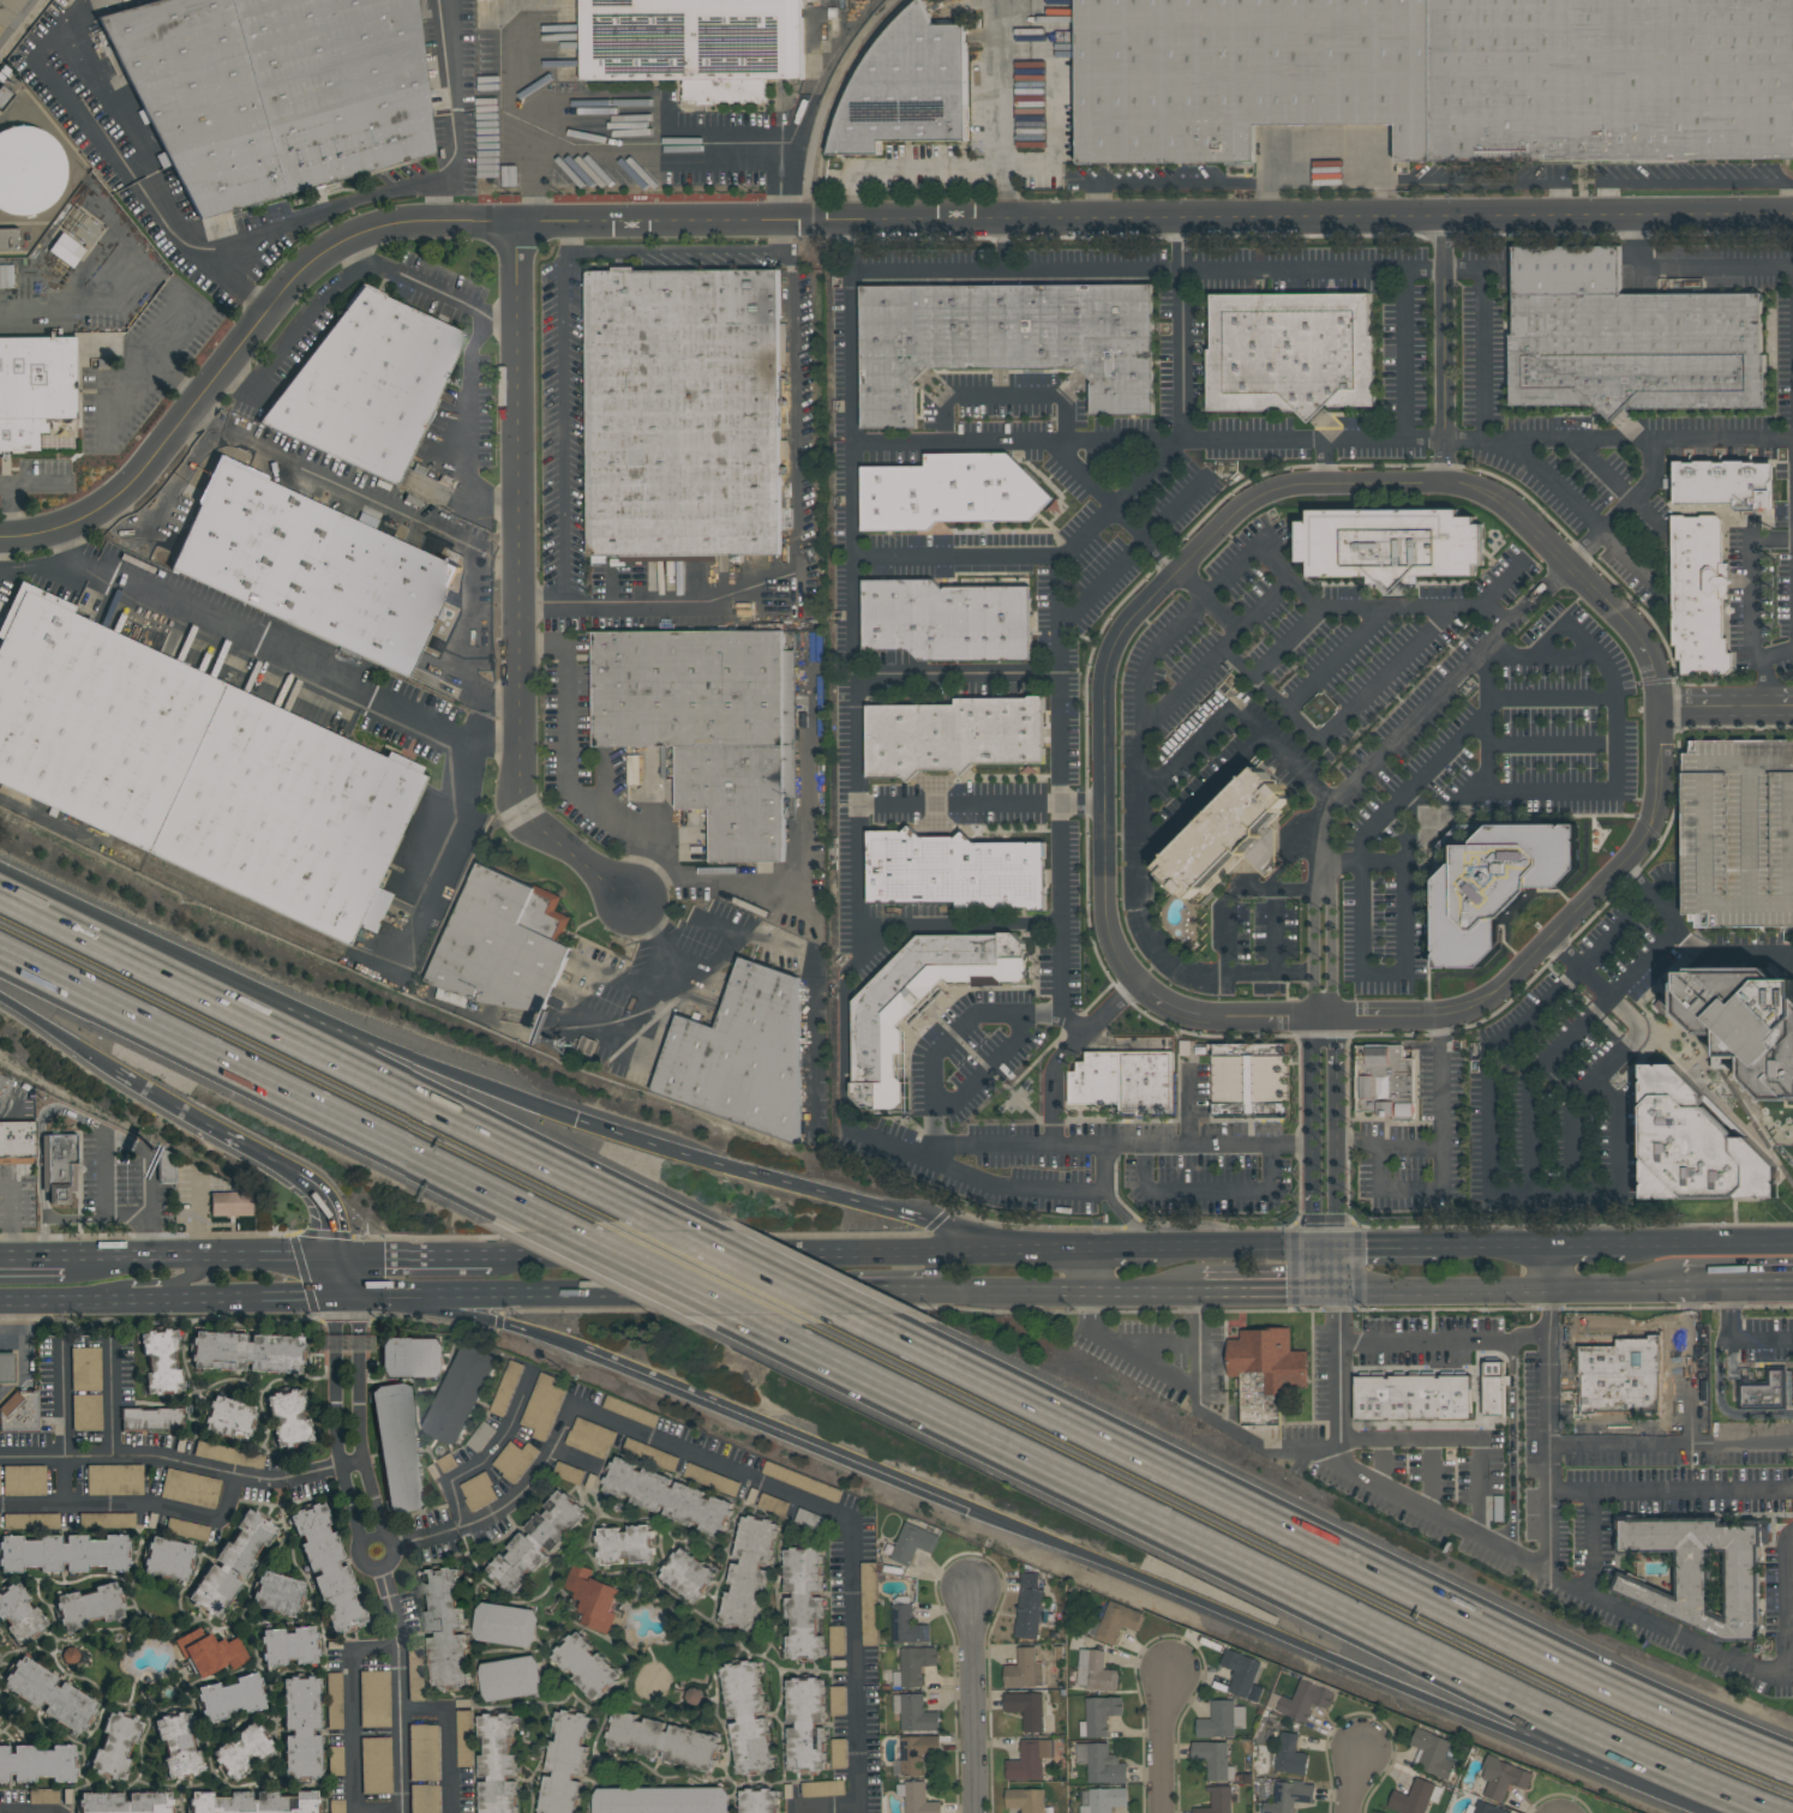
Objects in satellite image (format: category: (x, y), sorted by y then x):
road: (1055, 14)
road: (74, 16)
road: (25, 29)
building: (694, 44)
road: (83, 66)
road: (536, 71)
road: (822, 76)
building: (1437, 78)
building: (909, 88)
railway: (840, 91)
building: (275, 92)
road: (457, 98)
road: (653, 143)
road: (930, 169)
building: (29, 170)
road: (1467, 181)
road: (1179, 184)
road: (1552, 196)
road: (1265, 198)
road: (1385, 198)
road: (1093, 202)
road: (311, 216)
road: (829, 220)
road: (785, 234)
road: (563, 238)
building: (10, 239)
building: (66, 251)
road: (673, 251)
road: (1691, 268)
building: (6, 275)
road: (413, 282)
road: (1179, 326)
road: (295, 330)
road: (1481, 337)
building: (1626, 338)
road: (166, 343)
building: (1003, 343)
road: (1446, 349)
building: (1290, 352)
road: (1401, 352)
road: (149, 367)
building: (368, 386)
building: (35, 388)
road: (1001, 394)
road: (793, 401)
building: (682, 412)
road: (466, 416)
road: (563, 427)
road: (1324, 439)
road: (1546, 479)
road: (1403, 484)
building: (1723, 484)
road: (11, 485)
road: (5, 486)
road: (353, 491)
building: (949, 492)
road: (1119, 505)
road: (1627, 506)
road: (172, 508)
road: (854, 538)
building: (1390, 544)
road: (1132, 552)
road: (1041, 557)
building: (312, 568)
road: (56, 569)
road: (516, 590)
building: (1698, 594)
road: (661, 601)
road: (1751, 607)
road: (1379, 610)
road: (1221, 616)
building: (947, 619)
road: (470, 641)
road: (1213, 652)
road: (294, 655)
road: (1776, 655)
railway: (803, 672)
road: (957, 676)
road: (1547, 700)
road: (1726, 709)
road: (1414, 719)
road: (1483, 720)
building: (707, 724)
road: (1204, 731)
building: (953, 734)
road: (1259, 746)
road: (1547, 749)
building: (196, 769)
road: (566, 776)
road: (1410, 787)
road: (1589, 794)
road: (1062, 800)
road: (959, 806)
road: (442, 815)
road: (52, 820)
road: (1143, 827)
building: (1738, 833)
building: (1222, 834)
road: (1289, 859)
building: (954, 871)
road: (722, 878)
building: (1497, 884)
road: (1234, 892)
road: (960, 927)
road: (1321, 941)
building: (503, 942)
road: (1731, 953)
road: (724, 954)
road: (1642, 963)
road: (1384, 975)
road: (667, 996)
building: (919, 999)
road: (289, 1005)
building: (1745, 1020)
road: (58, 1032)
road: (951, 1037)
road: (1067, 1051)
building: (742, 1055)
road: (335, 1058)
road: (1312, 1077)
road: (1336, 1077)
building: (1248, 1079)
road: (1534, 1079)
building: (1125, 1080)
building: (1384, 1080)
road: (281, 1082)
building: (4, 1088)
road: (170, 1101)
road: (1188, 1106)
traffic signals: (580, 1119)
road: (121, 1140)
building: (17, 1142)
road: (1361, 1143)
road: (1123, 1145)
building: (1696, 1145)
road: (40, 1148)
road: (1440, 1149)
road: (1413, 1151)
road: (1621, 1151)
building: (59, 1166)
road: (305, 1175)
road: (758, 1175)
road: (1522, 1188)
road: (1210, 1190)
road: (1337, 1194)
road: (1314, 1195)
building: (230, 1203)
road: (1113, 1203)
road: (200, 1215)
road: (78, 1218)
road: (12, 1219)
road: (990, 1236)
road: (1709, 1243)
road: (1588, 1244)
road: (1493, 1245)
road: (1383, 1247)
road: (1242, 1248)
road: (1122, 1249)
road: (790, 1253)
road: (415, 1255)
road: (202, 1256)
traffic signals: (341, 1256)
road: (31, 1259)
road: (946, 1259)
road: (652, 1266)
road: (1335, 1268)
road: (763, 1269)
road: (185, 1277)
road: (337, 1277)
road: (349, 1277)
road: (1771, 1284)
road: (1716, 1285)
road: (1510, 1286)
road: (1270, 1290)
road: (890, 1291)
road: (1063, 1291)
road: (607, 1295)
road: (347, 1297)
traffic signals: (359, 1297)
traffic signals: (335, 1298)
road: (259, 1299)
road: (64, 1302)
road: (156, 1302)
road: (474, 1316)
road: (1115, 1337)
road: (1445, 1339)
road: (1733, 1340)
building: (347, 1345)
building: (247, 1352)
building: (412, 1357)
building: (161, 1362)
road: (22, 1365)
road: (1690, 1365)
building: (7, 1368)
building: (85, 1369)
parking lot: (85, 1369)
building: (1264, 1371)
building: (1620, 1371)
gas station: (19, 1377)
road: (1341, 1383)
building: (1493, 1386)
building: (506, 1387)
parking lot: (506, 1388)
building: (1767, 1389)
building: (461, 1394)
building: (1413, 1397)
road: (65, 1400)
road: (113, 1400)
building: (542, 1406)
parking lot: (542, 1406)
road: (1549, 1410)
building: (630, 1411)
building: (19, 1412)
building: (86, 1412)
parking lot: (88, 1412)
parking lot: (631, 1412)
road: (360, 1415)
building: (230, 1418)
building: (290, 1418)
building: (152, 1419)
road: (337, 1419)
road: (778, 1431)
parking lot: (481, 1436)
road: (1459, 1436)
building: (589, 1437)
parking lot: (590, 1437)
road: (1672, 1447)
building: (400, 1449)
parking lot: (650, 1454)
building: (228, 1455)
parking lot: (229, 1455)
road: (492, 1455)
road: (578, 1459)
building: (515, 1460)
parking lot: (515, 1460)
parking lot: (448, 1463)
road: (184, 1465)
road: (1378, 1465)
road: (1321, 1467)
road: (737, 1471)
parking lot: (570, 1472)
road: (1428, 1477)
building: (710, 1478)
building: (114, 1479)
parking lot: (115, 1479)
parking lot: (713, 1479)
building: (23, 1481)
parking lot: (24, 1481)
building: (802, 1481)
parking lot: (803, 1482)
road: (61, 1483)
parking lot: (0, 1485)
building: (190, 1489)
parking lot: (191, 1489)
road: (1672, 1489)
building: (478, 1491)
parking lot: (480, 1491)
building: (668, 1496)
parking lot: (773, 1503)
road: (137, 1507)
traffic signals: (970, 1511)
parking lot: (810, 1519)
building: (106, 1520)
parking lot: (107, 1520)
building: (30, 1521)
parking lot: (31, 1521)
building: (186, 1529)
parking lot: (186, 1530)
road: (1325, 1539)
building: (536, 1542)
building: (912, 1543)
road: (1591, 1543)
building: (625, 1544)
building: (64, 1554)
building: (169, 1560)
building: (232, 1565)
building: (329, 1567)
road: (374, 1569)
building: (1698, 1569)
building: (749, 1572)
building: (686, 1574)
road: (1243, 1577)
building: (278, 1595)
building: (593, 1597)
building: (803, 1602)
building: (869, 1603)
building: (1029, 1605)
building: (91, 1607)
building: (22, 1613)
building: (1116, 1621)
building: (906, 1623)
building: (505, 1625)
road: (1252, 1625)
building: (445, 1631)
building: (835, 1640)
parking lot: (838, 1640)
building: (289, 1647)
building: (211, 1652)
building: (71, 1656)
road: (1728, 1657)
building: (912, 1665)
building: (586, 1667)
building: (1024, 1669)
building: (1095, 1670)
building: (1240, 1670)
parking lot: (415, 1674)
building: (511, 1679)
park: (652, 1681)
road: (401, 1691)
building: (52, 1693)
building: (692, 1694)
building: (234, 1698)
building: (374, 1699)
parking lot: (374, 1699)
building: (836, 1700)
parking lot: (838, 1700)
road: (972, 1700)
building: (1301, 1700)
building: (334, 1701)
parking lot: (335, 1701)
road: (350, 1706)
building: (1030, 1711)
building: (915, 1712)
building: (1098, 1715)
building: (748, 1716)
building: (1221, 1719)
building: (806, 1723)
building: (302, 1728)
road: (450, 1737)
building: (462, 1739)
parking lot: (464, 1739)
building: (665, 1742)
road: (1165, 1742)
building: (181, 1743)
building: (116, 1746)
building: (246, 1751)
parking lot: (424, 1752)
building: (917, 1752)
building: (422, 1753)
building: (838, 1753)
parking lot: (839, 1753)
building: (1433, 1753)
building: (1290, 1754)
building: (1213, 1758)
building: (1029, 1759)
building: (335, 1760)
parking lot: (336, 1760)
building: (564, 1761)
building: (498, 1763)
building: (1101, 1763)
building: (38, 1764)
building: (376, 1766)
parking lot: (376, 1766)
building: (1501, 1777)
road: (1354, 1782)
building: (822, 1788)
parking lot: (823, 1788)
building: (43, 1796)
building: (1289, 1796)
building: (1415, 1796)
parking lot: (44, 1797)
building: (917, 1797)
building: (424, 1799)
parking lot: (425, 1799)
building: (1025, 1799)
building: (1102, 1799)
building: (1217, 1800)
building: (662, 1801)
building: (758, 1801)
building: (126, 1802)
building: (254, 1802)
building: (336, 1806)
parking lot: (336, 1807)
building: (1485, 1808)
road: (378, 1811)
road: (827, 1811)

